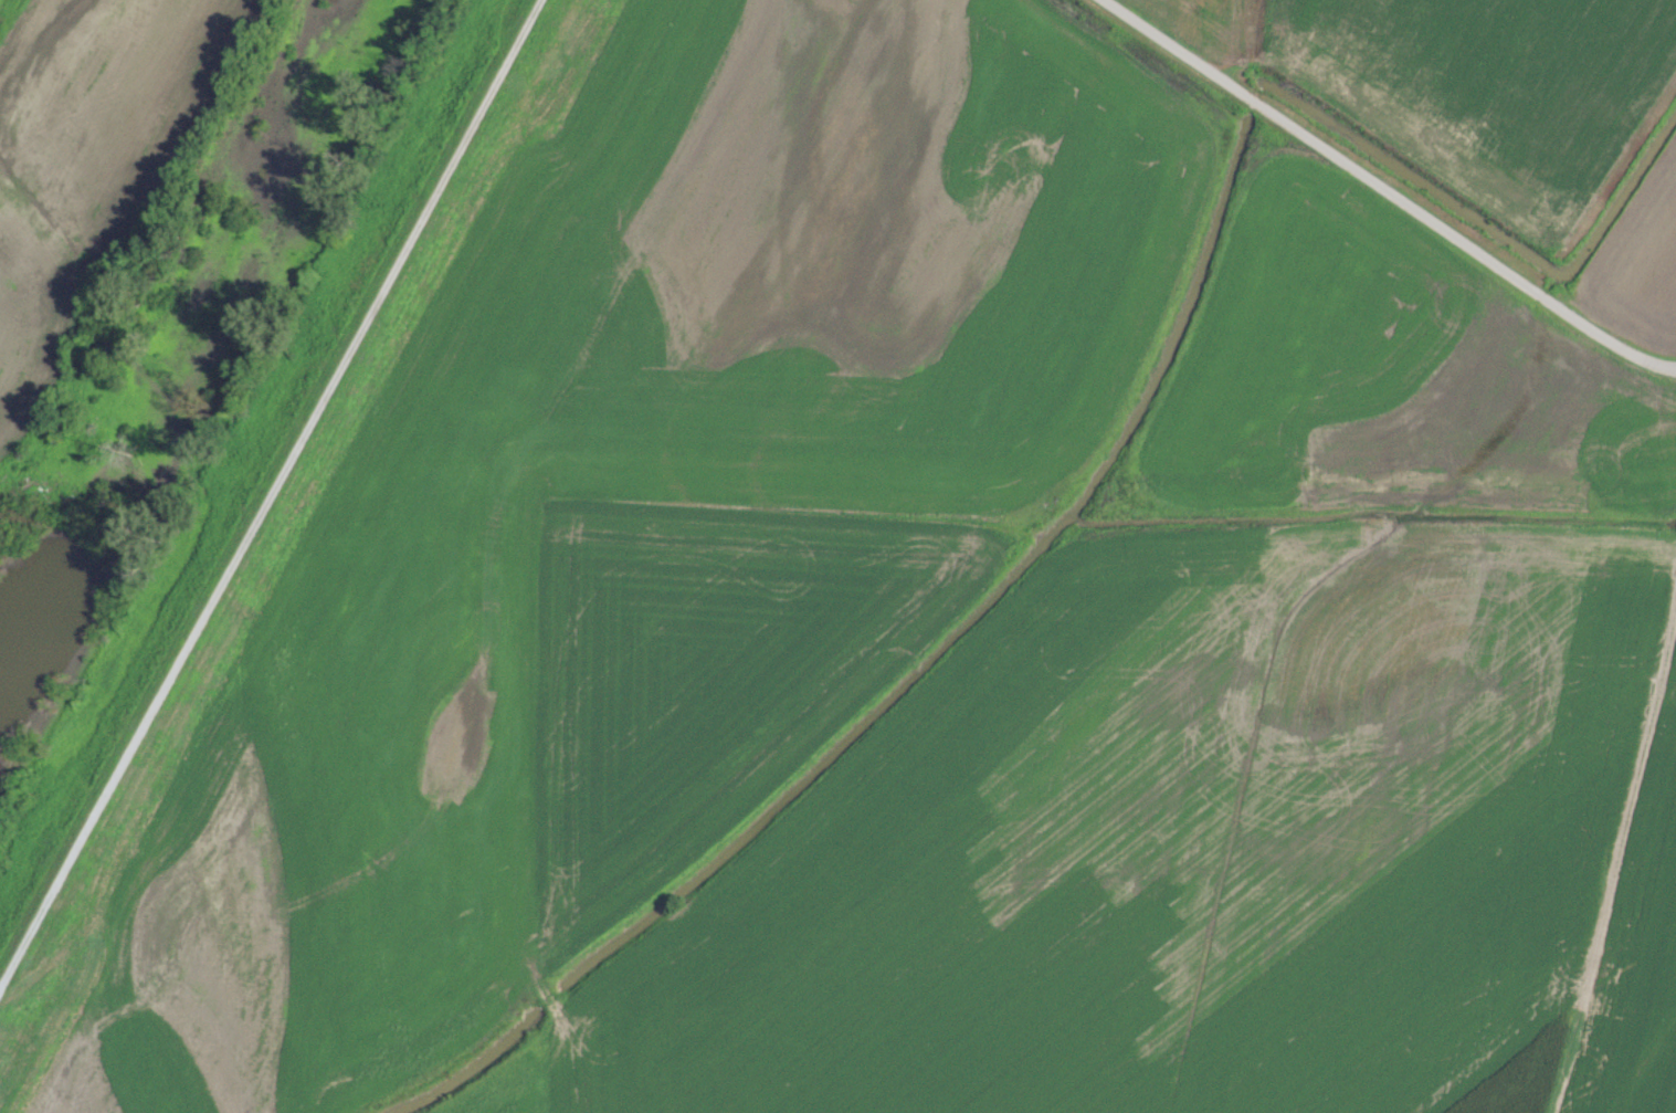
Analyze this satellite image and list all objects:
road: (1389, 189)
road: (271, 494)

